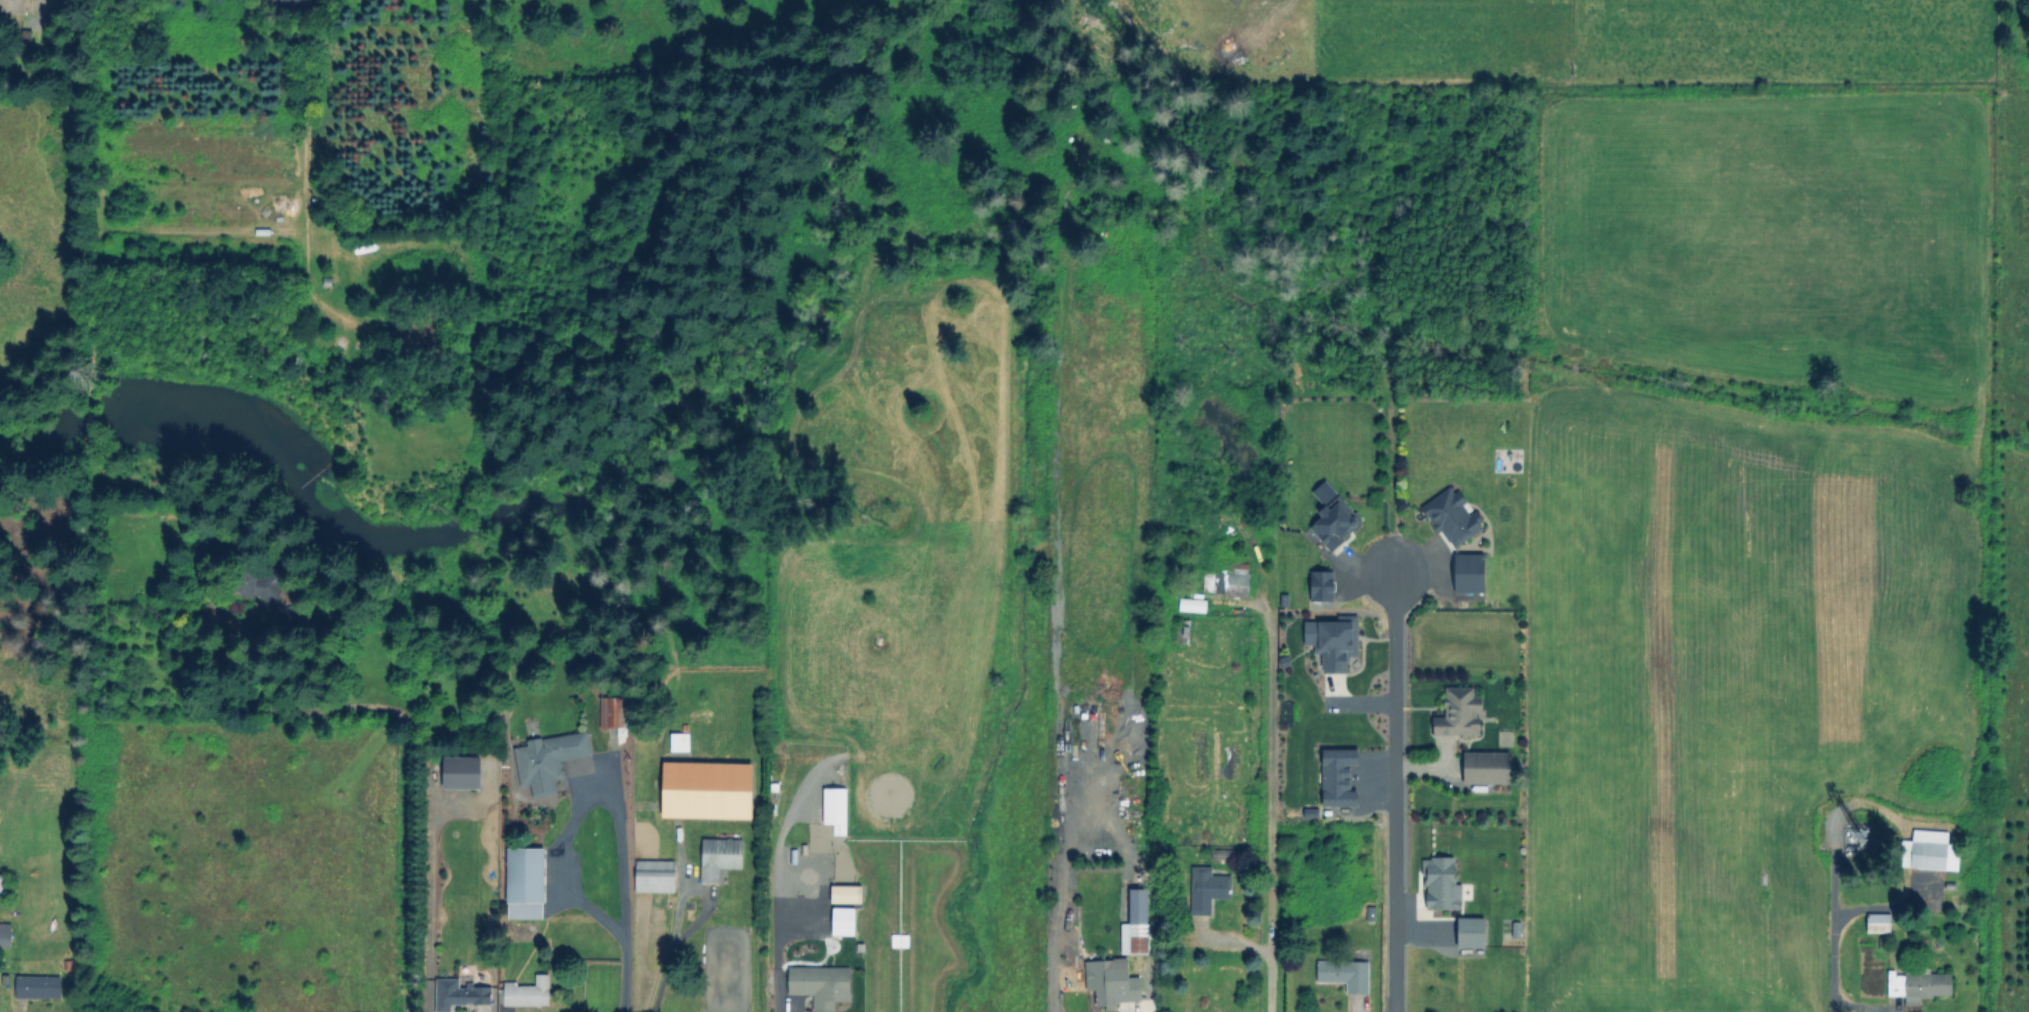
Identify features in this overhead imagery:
building: (12, 7)
building: (423, 334)
building: (1455, 516)
building: (1339, 523)
building: (1473, 573)
building: (1226, 579)
building: (1320, 585)
building: (274, 595)
building: (1190, 604)
building: (1336, 640)
building: (613, 711)
building: (1462, 712)
building: (546, 759)
building: (1489, 766)
building: (462, 771)
building: (1340, 776)
road: (1399, 784)
building: (705, 789)
road: (584, 798)
road: (1269, 798)
road: (398, 809)
building: (837, 810)
building: (1931, 850)
building: (718, 856)
building: (653, 875)
building: (524, 882)
building: (1444, 883)
building: (2, 884)
building: (1205, 888)
building: (844, 893)
road: (1051, 896)
building: (844, 916)
building: (1876, 922)
building: (1473, 932)
building: (6, 936)
building: (1133, 937)
road: (1829, 948)
road: (768, 961)
building: (1343, 973)
road: (623, 974)
building: (1112, 983)
building: (1916, 984)
building: (40, 988)
building: (814, 989)
building: (525, 992)
building: (460, 995)
road: (1859, 1007)

